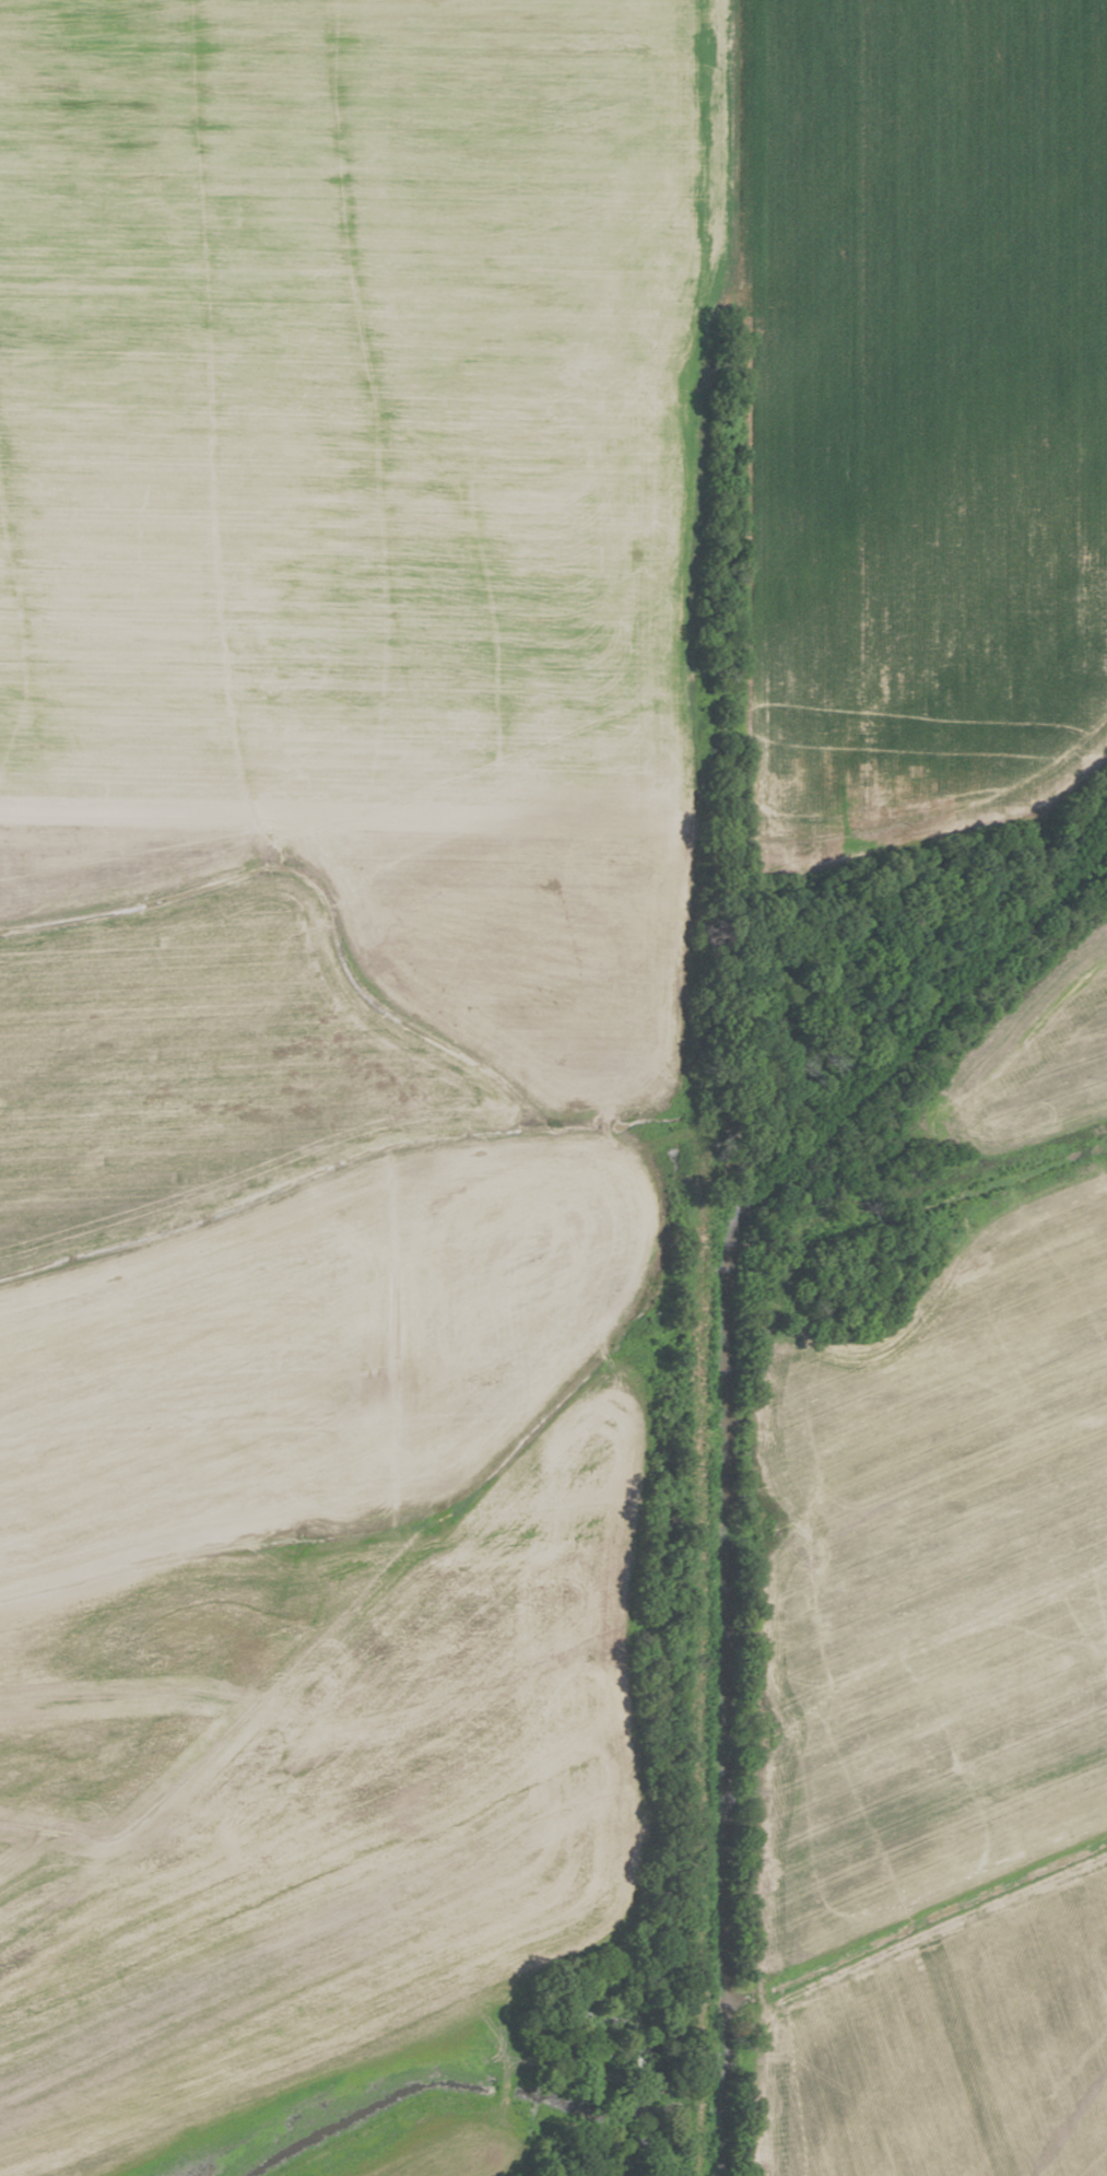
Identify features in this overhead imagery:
road: (946, 1916)

